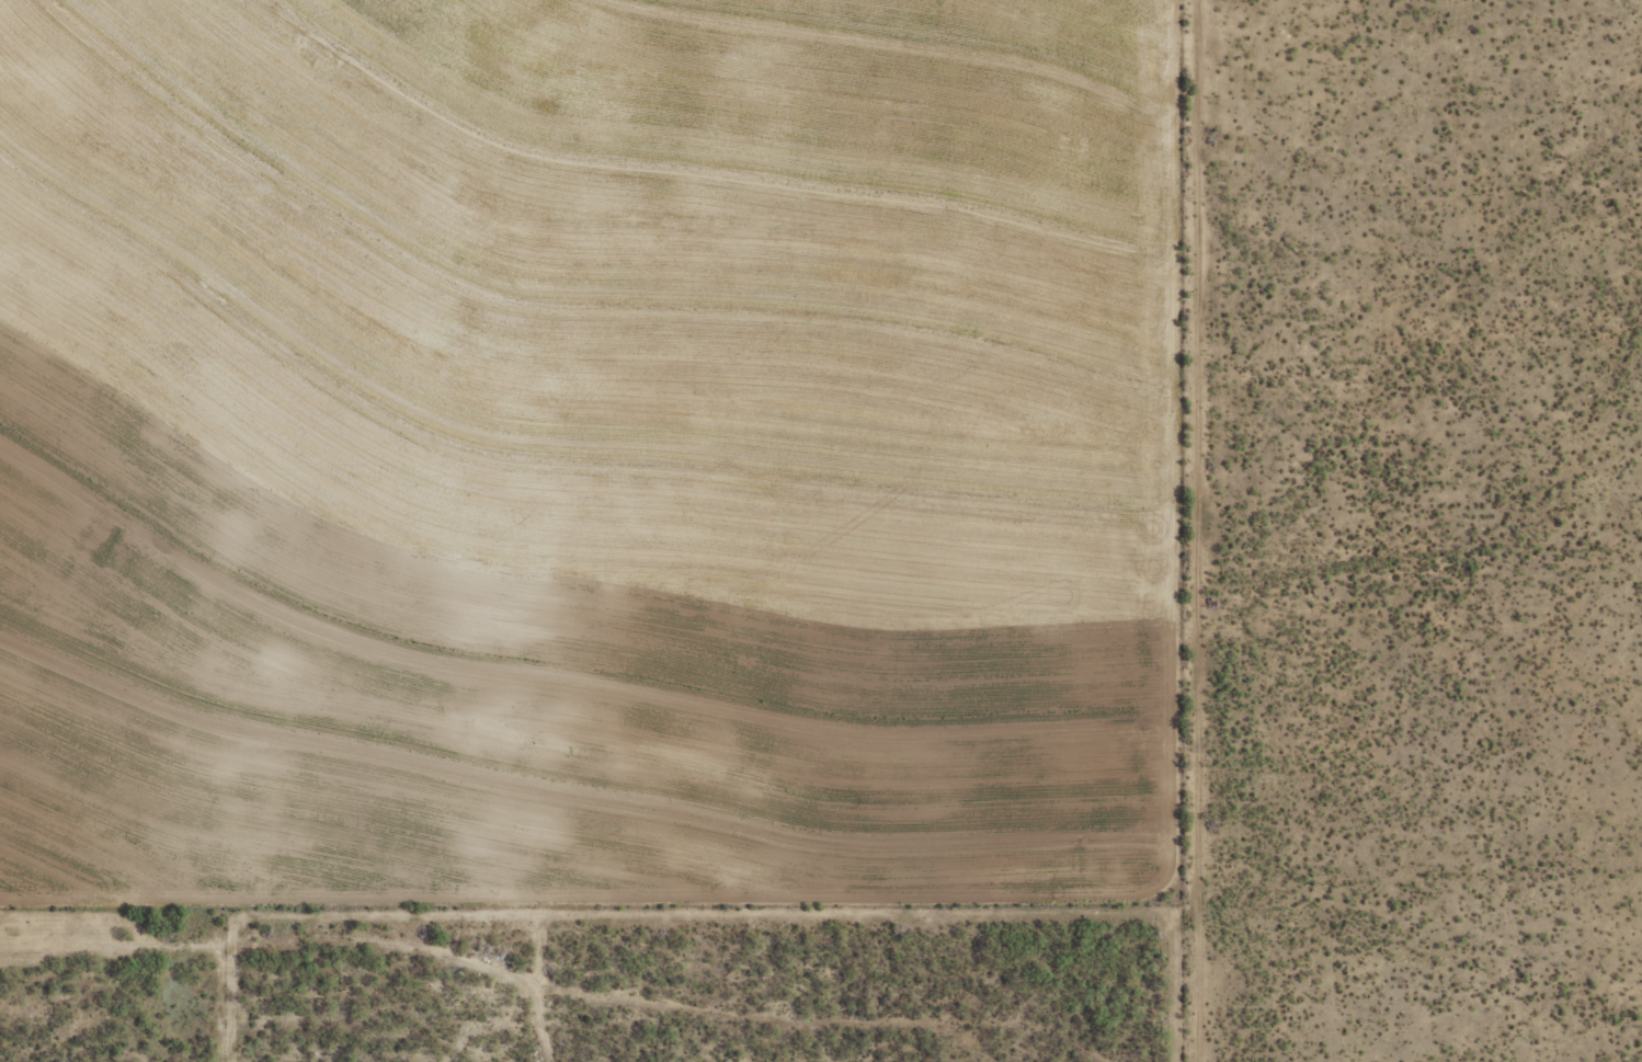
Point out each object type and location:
road: (1228, 530)

